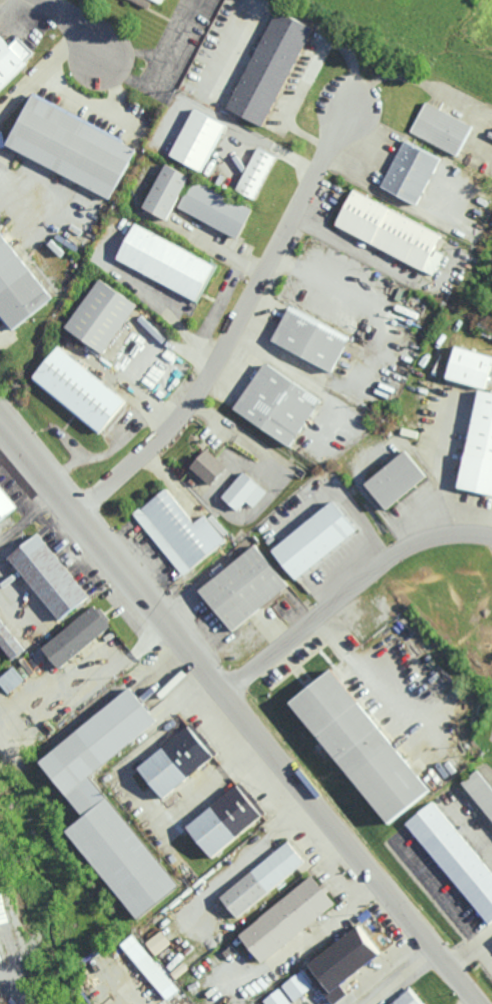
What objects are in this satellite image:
building: (159, 1)
building: (144, 2)
road: (74, 25)
road: (327, 42)
road: (167, 54)
building: (13, 59)
building: (270, 67)
road: (39, 69)
road: (145, 81)
road: (92, 101)
building: (441, 128)
building: (198, 139)
building: (71, 146)
road: (265, 146)
building: (256, 172)
building: (411, 172)
road: (23, 191)
building: (167, 191)
building: (216, 208)
building: (391, 231)
road: (222, 248)
road: (353, 249)
building: (167, 262)
building: (18, 288)
road: (221, 298)
building: (101, 316)
road: (171, 316)
road: (239, 327)
building: (311, 338)
building: (470, 367)
building: (79, 389)
building: (278, 404)
road: (239, 438)
building: (479, 447)
building: (209, 466)
building: (396, 479)
building: (244, 492)
building: (5, 504)
road: (30, 518)
building: (180, 531)
building: (314, 540)
building: (49, 576)
building: (244, 587)
road: (348, 592)
road: (15, 610)
road: (325, 630)
building: (78, 636)
road: (345, 655)
building: (11, 679)
road: (239, 711)
road: (394, 713)
building: (360, 746)
building: (178, 760)
building: (480, 790)
road: (193, 796)
building: (110, 804)
building: (227, 819)
road: (470, 826)
building: (455, 857)
road: (244, 860)
building: (262, 879)
building: (288, 918)
building: (158, 942)
road: (470, 951)
building: (342, 963)
building: (150, 967)
road: (402, 977)
building: (298, 985)
building: (277, 998)
building: (410, 998)
road: (472, 1002)

